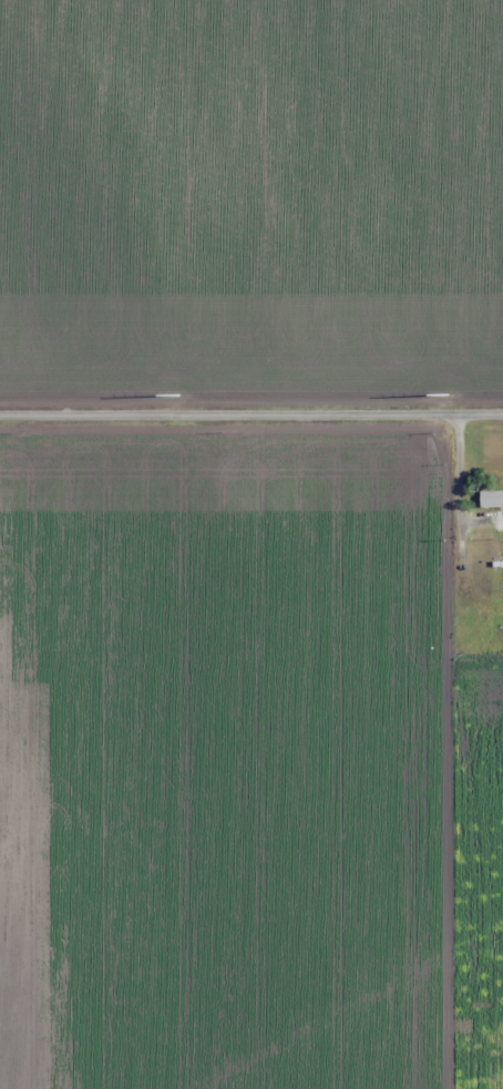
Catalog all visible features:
crop: (250, 199)
power tower: (183, 395)
power tower: (449, 395)
road: (250, 417)
building: (500, 490)
building: (497, 520)
building: (496, 587)
road: (462, 752)

